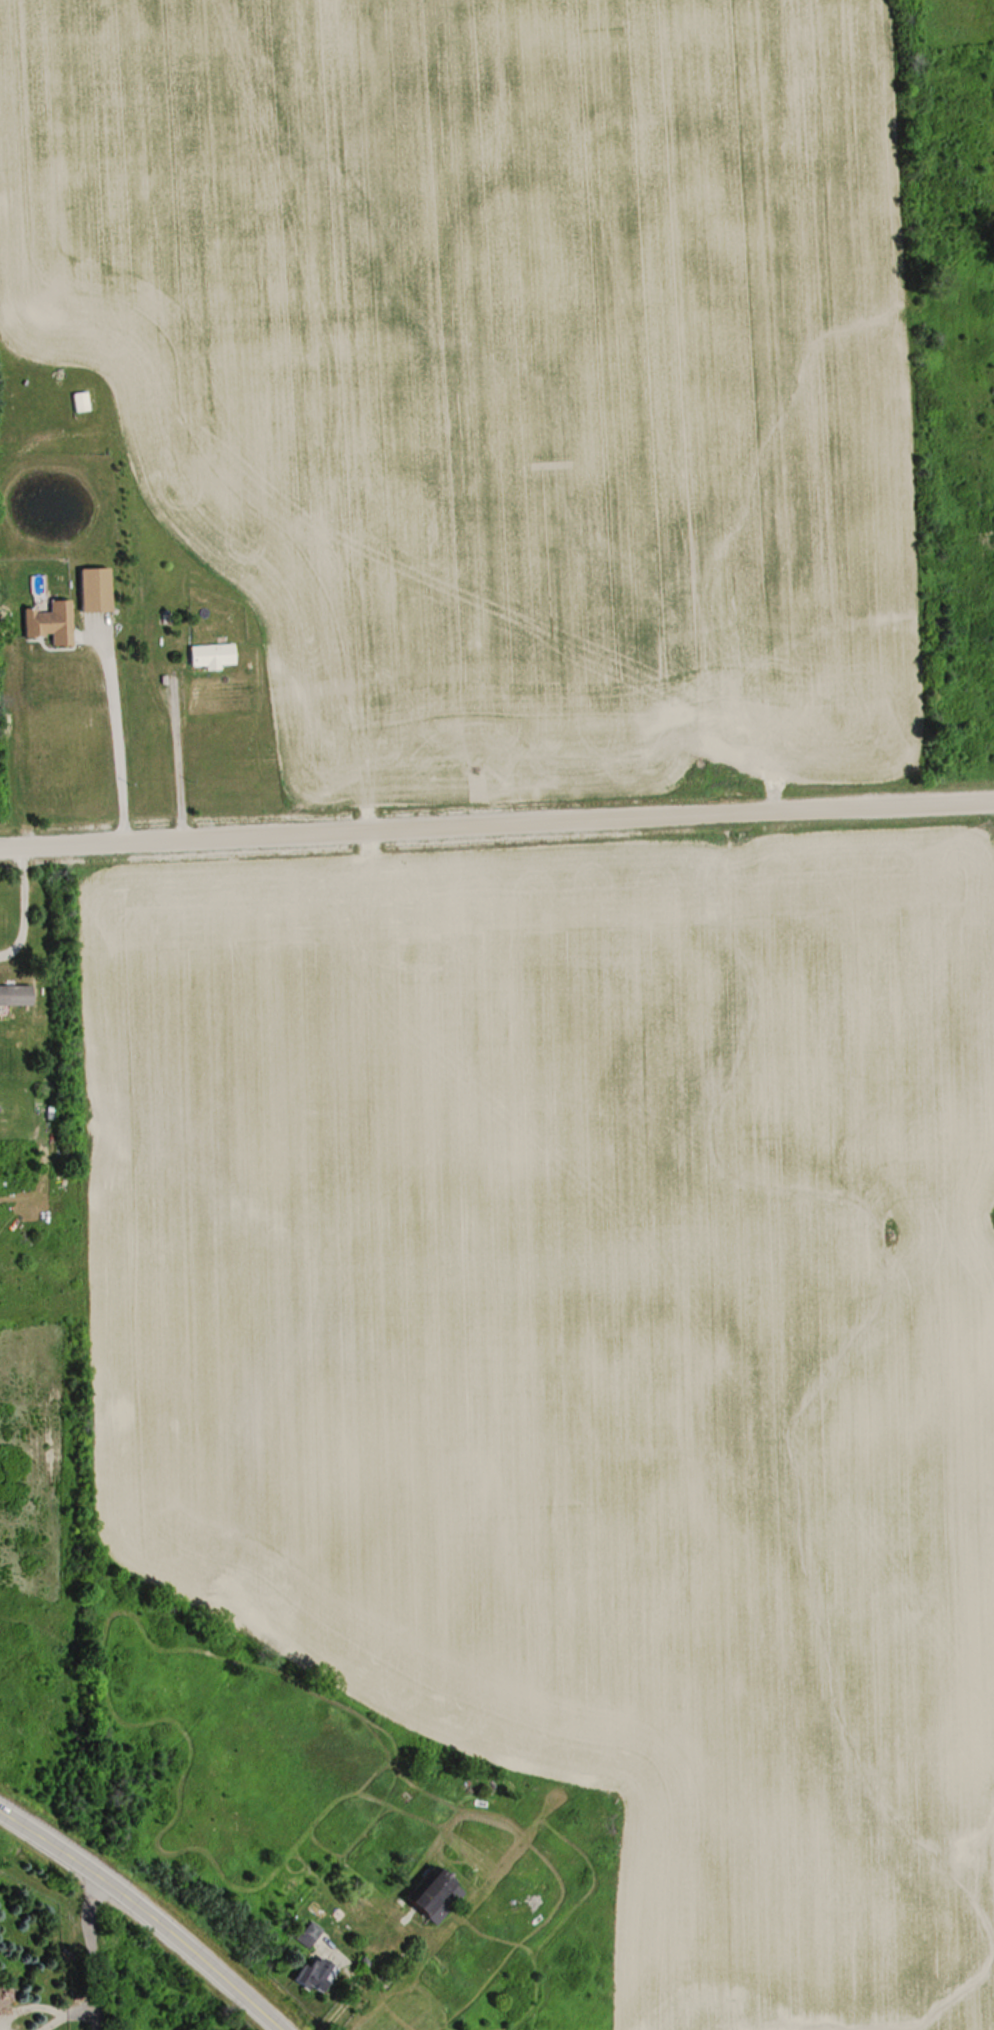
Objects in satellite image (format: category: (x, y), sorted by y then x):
building: (80, 400)
building: (51, 622)
building: (213, 652)
road: (115, 731)
road: (496, 823)
building: (15, 993)
building: (436, 1894)
road: (146, 1915)
building: (309, 1933)
building: (316, 1974)

